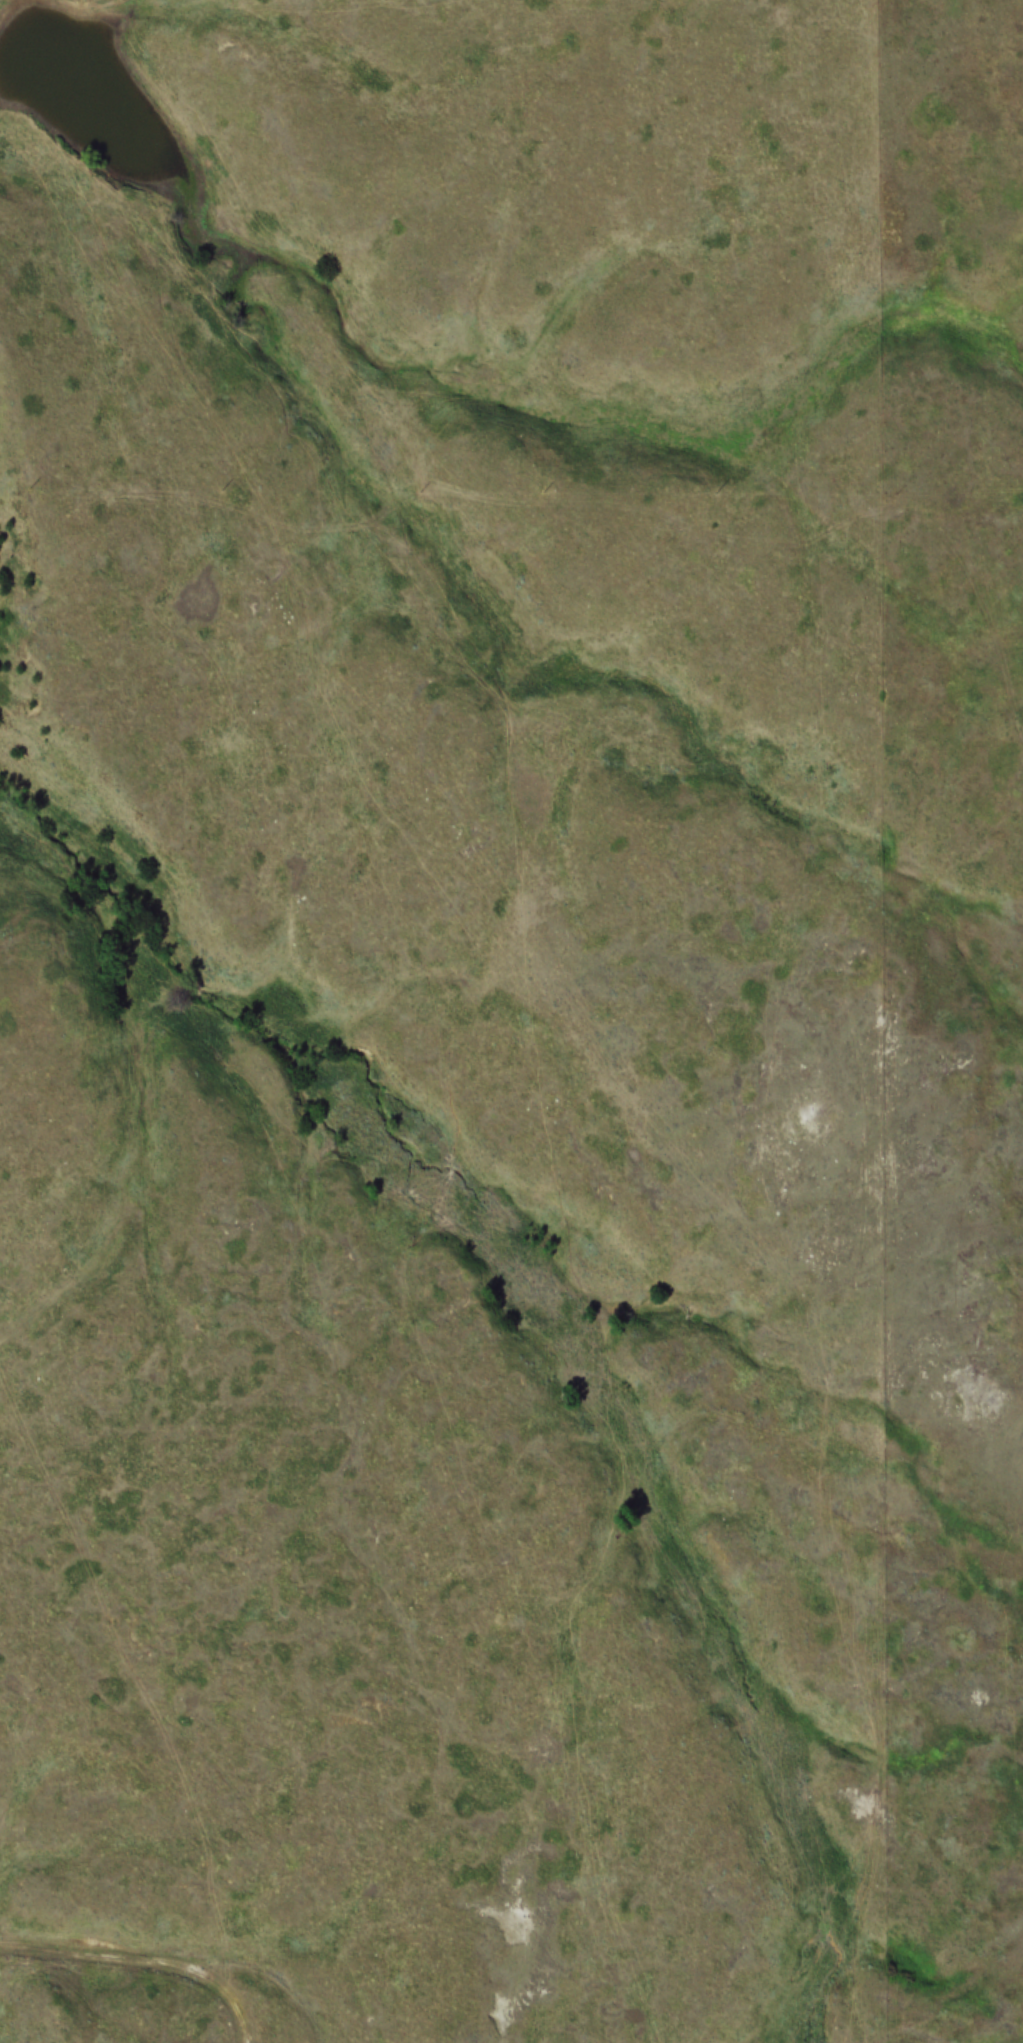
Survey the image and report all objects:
road: (146, 1962)

